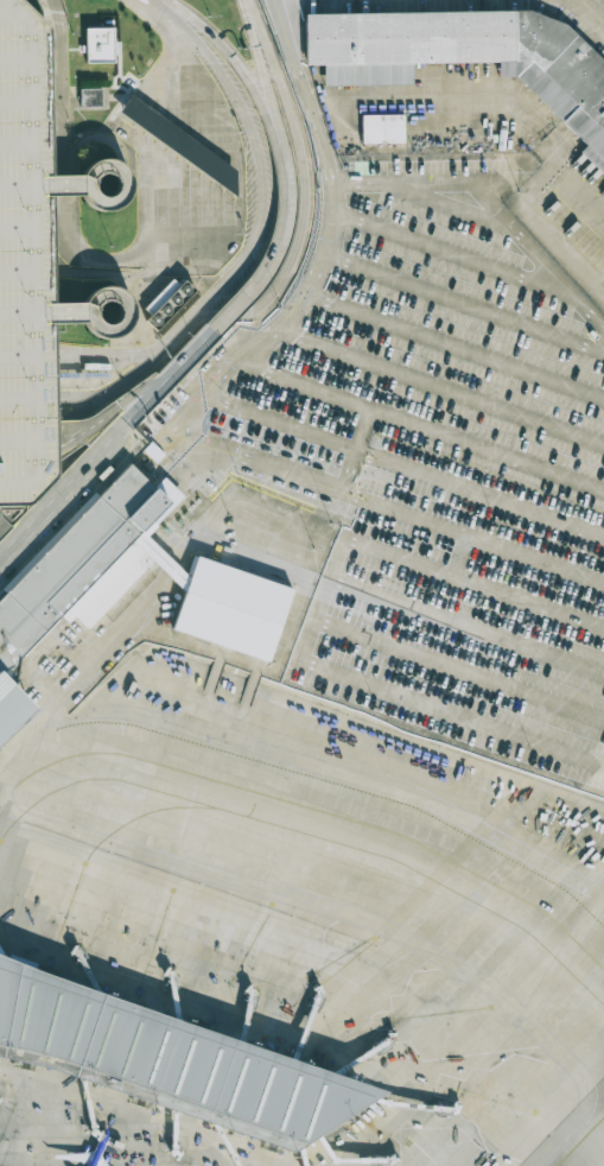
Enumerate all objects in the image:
road: (592, 9)
parking lot: (593, 42)
building: (100, 44)
road: (167, 51)
building: (466, 56)
road: (240, 75)
road: (165, 78)
road: (172, 83)
road: (182, 87)
road: (190, 89)
road: (268, 89)
building: (90, 96)
road: (148, 121)
road: (218, 122)
road: (203, 127)
building: (382, 128)
road: (159, 129)
road: (51, 132)
road: (214, 138)
road: (172, 139)
building: (176, 142)
road: (182, 146)
road: (254, 152)
road: (192, 154)
road: (204, 164)
road: (216, 171)
road: (121, 176)
road: (224, 179)
road: (303, 185)
road: (66, 188)
road: (159, 196)
road: (173, 201)
road: (490, 201)
road: (184, 204)
road: (452, 204)
road: (195, 208)
road: (206, 211)
road: (228, 211)
road: (217, 213)
airport apron: (567, 213)
road: (65, 224)
road: (274, 241)
road: (561, 247)
road: (192, 249)
road: (451, 252)
building: (25, 261)
parking lot: (25, 261)
road: (46, 261)
road: (43, 271)
road: (26, 272)
road: (110, 273)
road: (463, 299)
building: (169, 304)
road: (45, 312)
road: (230, 312)
road: (120, 323)
road: (178, 337)
road: (21, 340)
road: (454, 343)
road: (234, 357)
road: (27, 359)
road: (106, 359)
road: (88, 374)
road: (27, 375)
road: (169, 375)
road: (440, 385)
road: (108, 397)
road: (89, 398)
road: (27, 401)
road: (108, 411)
road: (280, 420)
road: (419, 425)
road: (363, 427)
road: (27, 433)
parking lot: (443, 467)
road: (349, 469)
road: (63, 486)
road: (481, 490)
road: (536, 558)
airport: (301, 583)
airport terminal: (126, 585)
building: (126, 585)
road: (529, 600)
road: (468, 627)
road: (320, 664)
road: (460, 667)
road: (81, 683)
road: (357, 775)
road: (5, 801)
airport taxiway: (427, 876)
road: (367, 918)
airport apron: (305, 920)
road: (565, 956)
airport terminal: (161, 1057)
building: (161, 1057)

